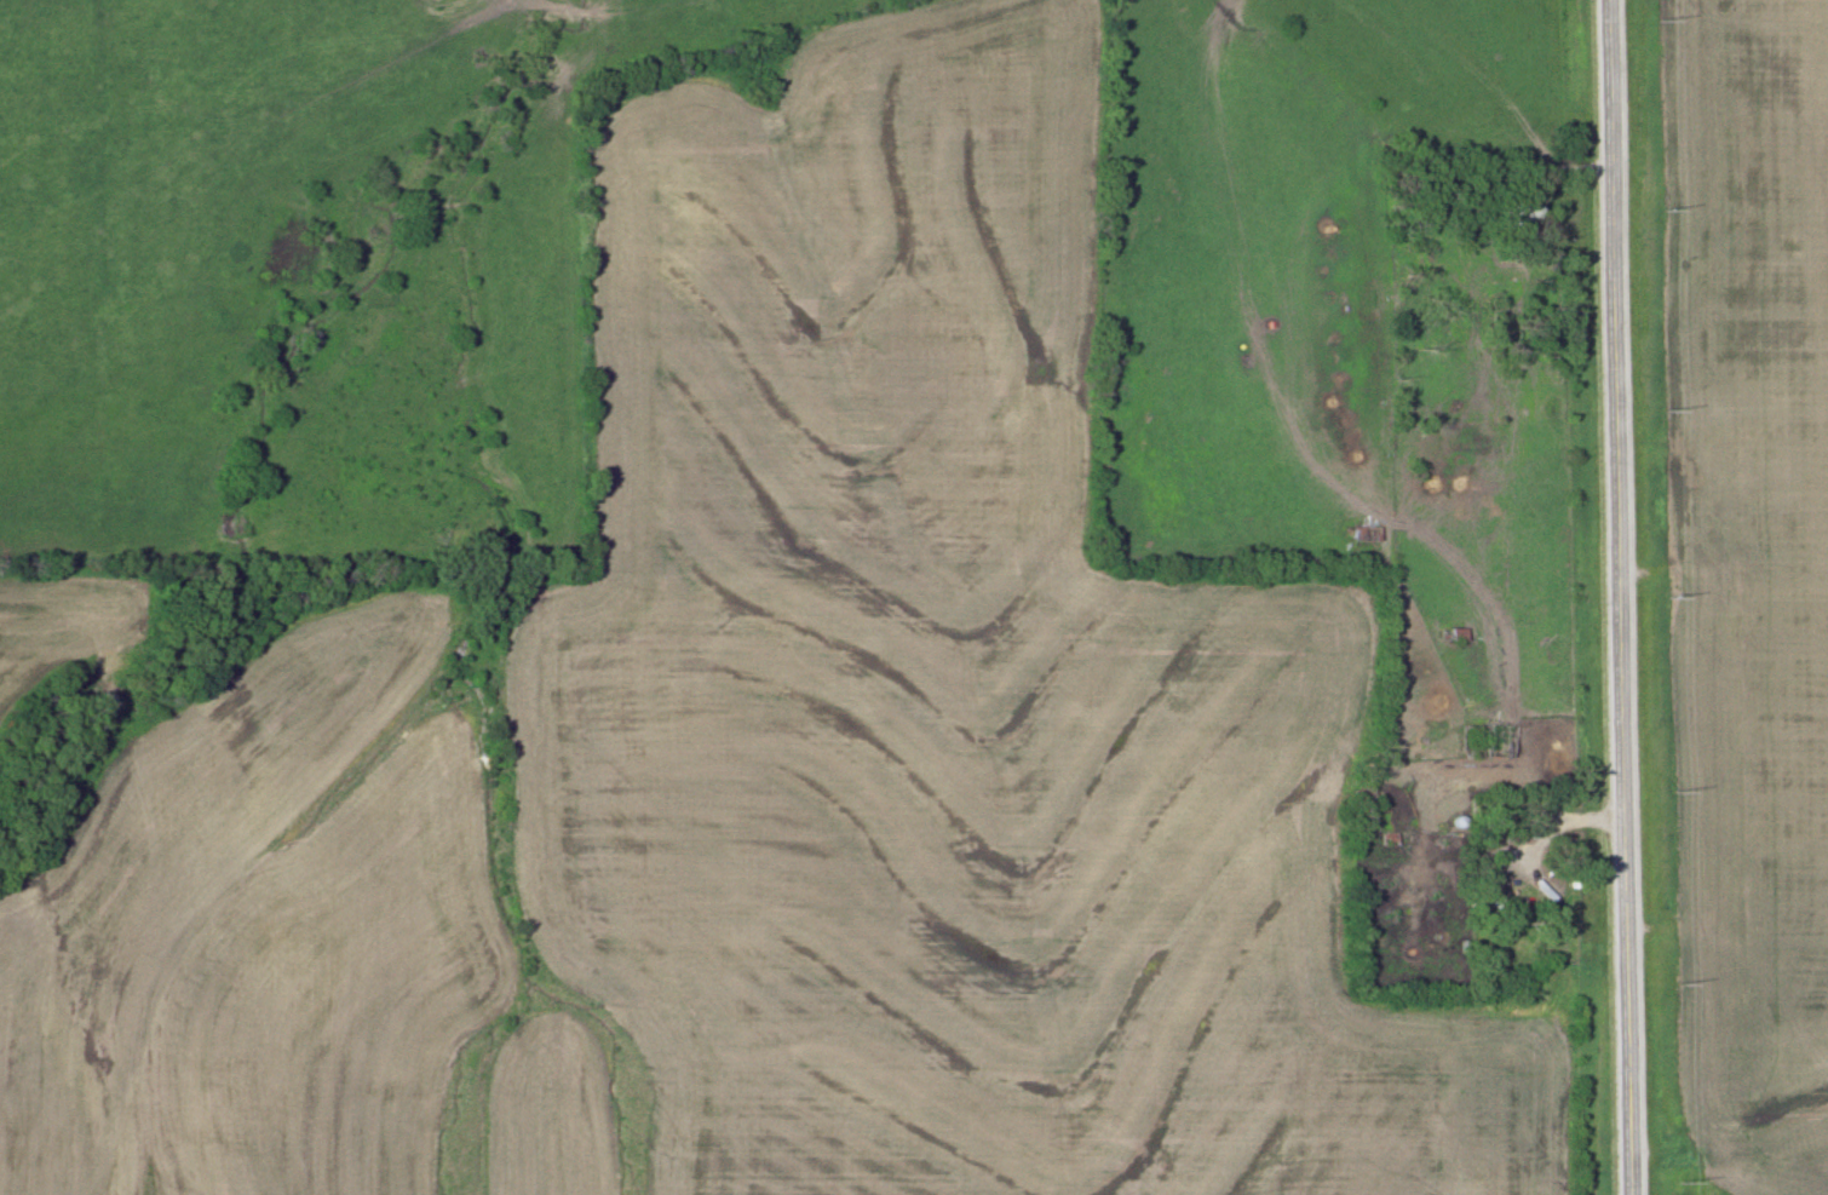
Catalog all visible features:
building: (1364, 534)
road: (1617, 597)
building: (1452, 634)
building: (1493, 746)

